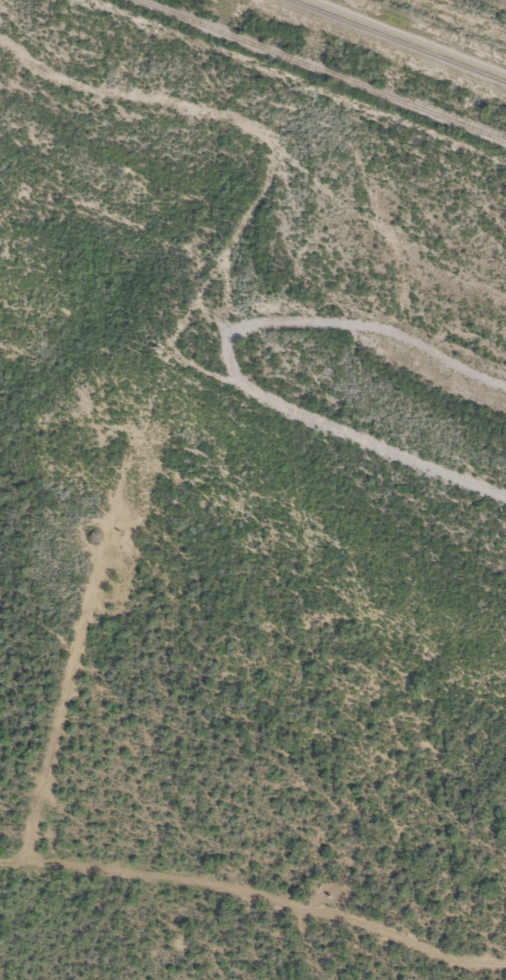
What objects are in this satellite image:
road: (406, 39)
railway: (321, 70)

